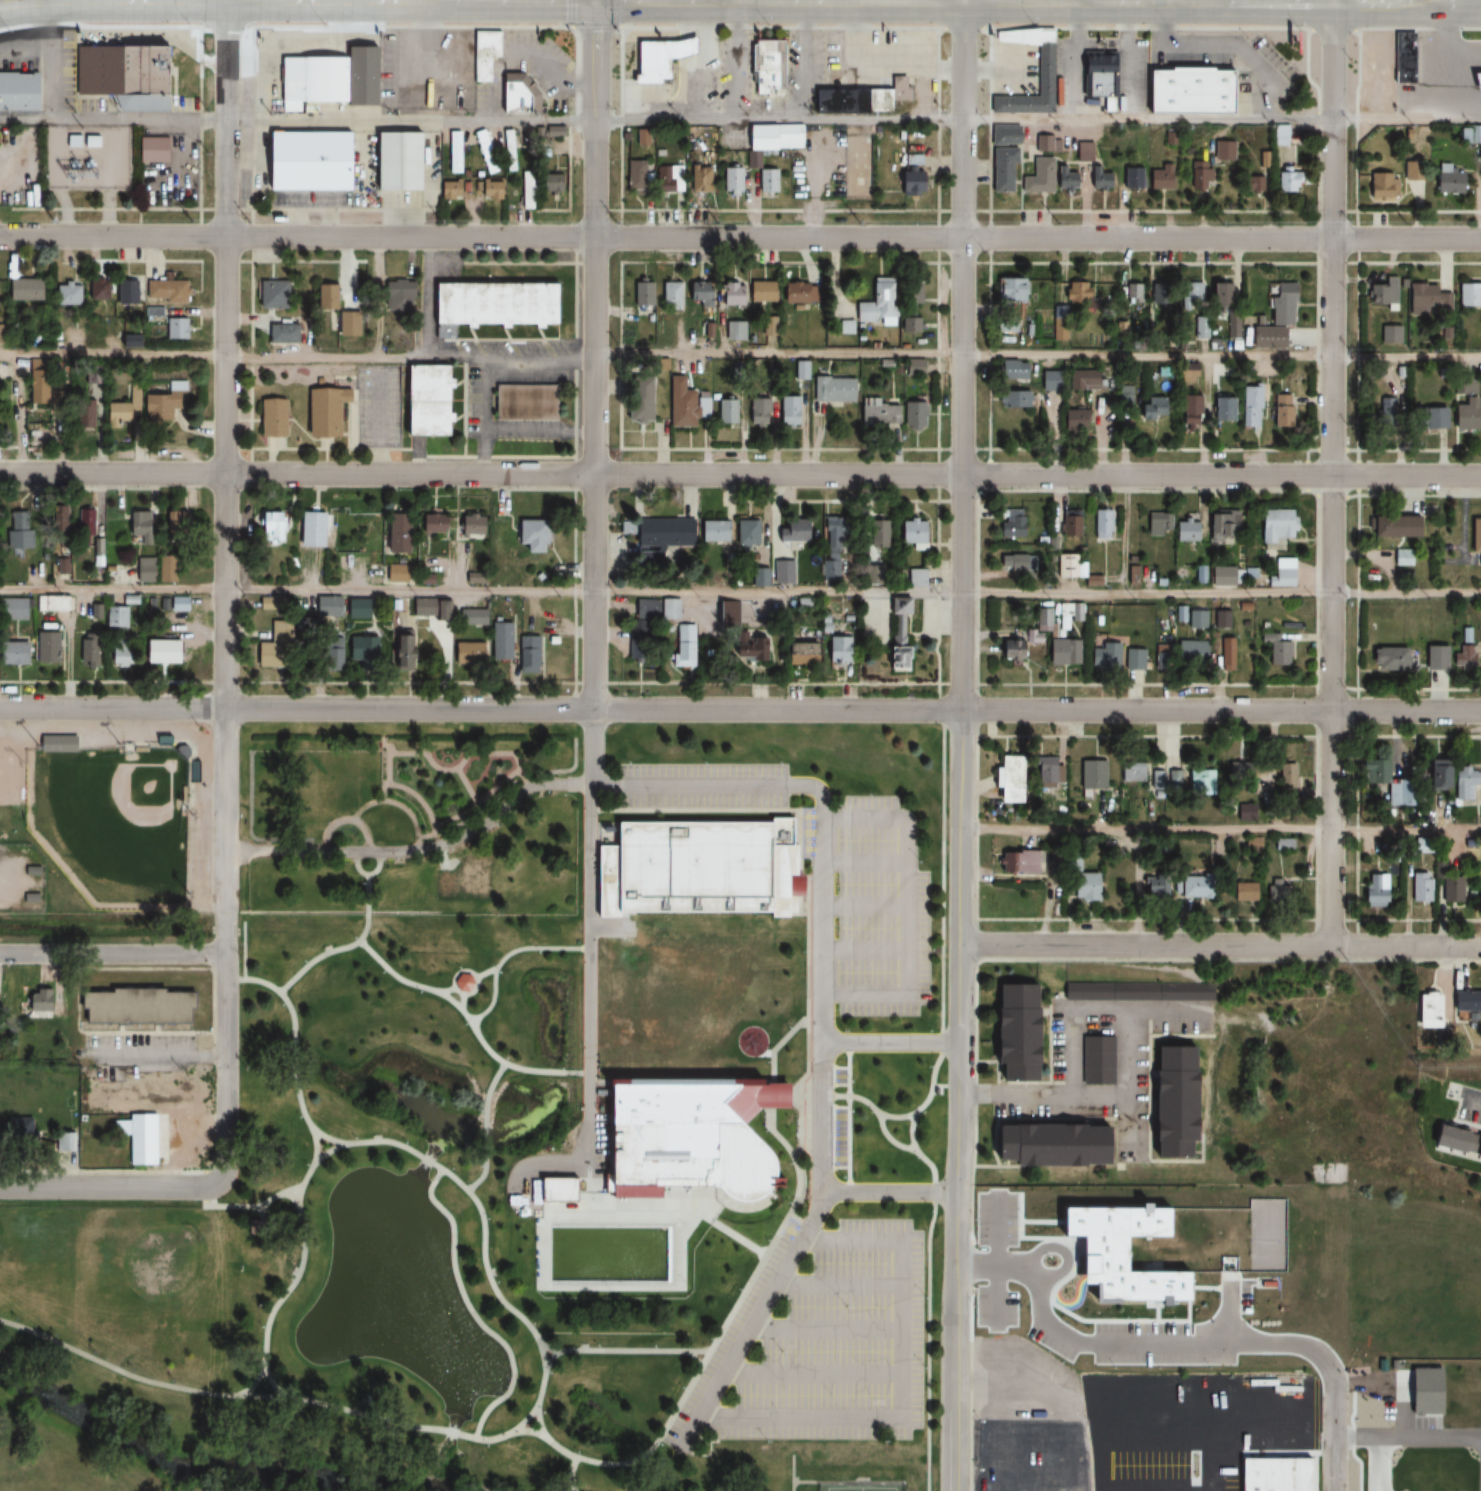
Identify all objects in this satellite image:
road: (228, 0)
road: (526, 1)
road: (595, 1)
road: (963, 1)
road: (1062, 1)
road: (4, 2)
traffic signals: (595, 2)
road: (663, 2)
road: (847, 2)
road: (1061, 2)
road: (1246, 2)
road: (1376, 2)
road: (1450, 2)
road: (594, 24)
road: (523, 25)
building: (688, 46)
building: (483, 54)
building: (1475, 56)
building: (651, 58)
building: (1403, 60)
building: (454, 61)
building: (764, 66)
building: (386, 70)
building: (1043, 72)
building: (117, 76)
building: (330, 78)
building: (1099, 79)
building: (17, 92)
building: (1188, 92)
building: (517, 95)
building: (860, 99)
building: (408, 101)
building: (431, 101)
building: (455, 101)
road: (620, 115)
road: (937, 116)
road: (1356, 119)
road: (740, 121)
building: (1004, 135)
building: (758, 136)
building: (640, 138)
building: (481, 143)
building: (1050, 146)
building: (507, 148)
building: (1222, 151)
building: (454, 152)
building: (912, 160)
building: (307, 161)
building: (397, 162)
building: (95, 163)
building: (1002, 169)
building: (1413, 170)
building: (634, 177)
building: (667, 178)
building: (1047, 178)
building: (1097, 178)
building: (1131, 178)
building: (1159, 178)
building: (698, 179)
building: (731, 179)
building: (1200, 179)
building: (1286, 179)
building: (1446, 179)
building: (765, 180)
building: (548, 182)
building: (908, 183)
building: (1250, 185)
building: (1382, 185)
building: (448, 188)
building: (488, 190)
building: (524, 190)
road: (740, 237)
building: (1009, 288)
building: (19, 289)
building: (93, 289)
building: (121, 291)
building: (162, 291)
building: (758, 291)
building: (697, 292)
building: (63, 293)
building: (642, 293)
building: (728, 293)
building: (796, 293)
building: (1078, 293)
building: (1133, 293)
building: (1158, 293)
building: (269, 294)
building: (395, 294)
building: (669, 294)
building: (1375, 294)
building: (1468, 294)
building: (1218, 295)
building: (1420, 295)
building: (1191, 296)
building: (322, 297)
building: (880, 297)
building: (849, 303)
building: (487, 305)
building: (912, 307)
building: (1275, 318)
building: (1006, 324)
building: (171, 328)
building: (1200, 328)
building: (733, 330)
building: (285, 333)
building: (1389, 334)
road: (961, 355)
road: (1037, 355)
road: (595, 356)
road: (242, 357)
road: (539, 360)
building: (913, 368)
building: (800, 370)
building: (1012, 370)
building: (1049, 381)
building: (1082, 381)
building: (831, 390)
building: (1012, 399)
building: (418, 400)
building: (635, 400)
building: (161, 402)
building: (684, 404)
building: (1250, 408)
building: (1150, 409)
building: (787, 410)
building: (1189, 410)
building: (1222, 410)
building: (320, 411)
building: (724, 411)
building: (756, 411)
building: (1383, 411)
building: (1280, 412)
building: (877, 414)
building: (1465, 415)
road: (378, 416)
building: (913, 416)
building: (80, 417)
building: (269, 417)
road: (484, 417)
building: (1427, 418)
building: (1074, 420)
road: (1331, 473)
road: (740, 475)
building: (61, 519)
building: (176, 519)
building: (87, 522)
building: (430, 523)
building: (1010, 523)
building: (1069, 524)
building: (1102, 524)
building: (469, 525)
building: (1155, 525)
building: (1221, 525)
building: (1393, 527)
building: (267, 528)
building: (307, 528)
building: (831, 529)
building: (1185, 530)
building: (1274, 530)
building: (709, 531)
building: (789, 531)
building: (659, 533)
building: (744, 533)
building: (911, 534)
building: (393, 535)
building: (527, 535)
building: (15, 536)
building: (1475, 537)
building: (148, 550)
building: (1402, 558)
building: (1010, 563)
building: (1065, 565)
building: (779, 572)
building: (1281, 572)
building: (393, 574)
building: (1227, 576)
building: (756, 578)
road: (225, 591)
road: (740, 592)
building: (49, 603)
building: (175, 604)
building: (420, 607)
building: (12, 609)
building: (90, 611)
building: (651, 613)
building: (1068, 614)
building: (114, 616)
building: (469, 618)
building: (1223, 619)
building: (735, 633)
building: (894, 638)
building: (498, 642)
building: (680, 646)
building: (45, 647)
building: (359, 647)
building: (1020, 647)
building: (835, 649)
building: (88, 651)
building: (1062, 651)
building: (1275, 651)
building: (13, 652)
building: (117, 652)
building: (400, 652)
building: (1191, 652)
building: (161, 653)
building: (796, 653)
building: (1226, 653)
building: (330, 654)
building: (465, 654)
building: (526, 654)
building: (269, 656)
building: (1103, 656)
building: (1464, 656)
building: (1159, 658)
building: (1387, 658)
building: (1435, 658)
building: (1132, 659)
road: (740, 710)
building: (54, 743)
building: (1005, 772)
building: (1238, 772)
building: (1131, 773)
building: (1435, 774)
building: (1045, 775)
building: (1091, 775)
building: (1286, 775)
building: (1383, 780)
building: (1164, 781)
building: (1199, 782)
parking lot: (703, 784)
building: (1463, 786)
park: (8, 798)
road: (822, 802)
park: (117, 815)
road: (1220, 830)
park: (105, 833)
road: (417, 849)
building: (1022, 863)
building: (693, 867)
road: (357, 869)
road: (941, 879)
building: (1081, 887)
building: (1191, 887)
building: (1153, 888)
building: (1419, 888)
building: (1373, 889)
building: (1450, 890)
building: (1240, 891)
building: (1275, 891)
parking lot: (884, 909)
road: (1220, 946)
road: (344, 948)
road: (113, 954)
road: (586, 955)
road: (504, 957)
road: (484, 973)
building: (460, 983)
road: (472, 989)
road: (446, 991)
road: (461, 1002)
building: (1463, 1002)
building: (37, 1004)
building: (131, 1007)
building: (1423, 1007)
road: (1096, 1010)
road: (466, 1018)
building: (1013, 1033)
road: (891, 1044)
road: (293, 1054)
road: (154, 1057)
building: (1089, 1058)
road: (776, 1064)
road: (1127, 1084)
building: (142, 1088)
building: (772, 1094)
road: (1043, 1096)
road: (960, 1100)
road: (1471, 1101)
building: (1171, 1103)
road: (903, 1117)
road: (822, 1118)
building: (92, 1124)
building: (17, 1129)
road: (485, 1129)
park: (534, 1135)
building: (137, 1137)
road: (888, 1138)
building: (694, 1139)
building: (1454, 1141)
building: (65, 1142)
road: (314, 1144)
building: (1047, 1146)
road: (915, 1151)
road: (111, 1187)
road: (890, 1193)
road: (481, 1216)
road: (300, 1255)
park: (136, 1285)
road: (759, 1308)
road: (471, 1311)
road: (727, 1318)
parking lot: (822, 1341)
road: (927, 1347)
road: (624, 1351)
road: (550, 1358)
road: (694, 1360)
road: (270, 1382)
road: (305, 1401)
road: (1336, 1415)
road: (538, 1421)
river: (203, 1462)
building: (1273, 1475)
park: (860, 1488)

